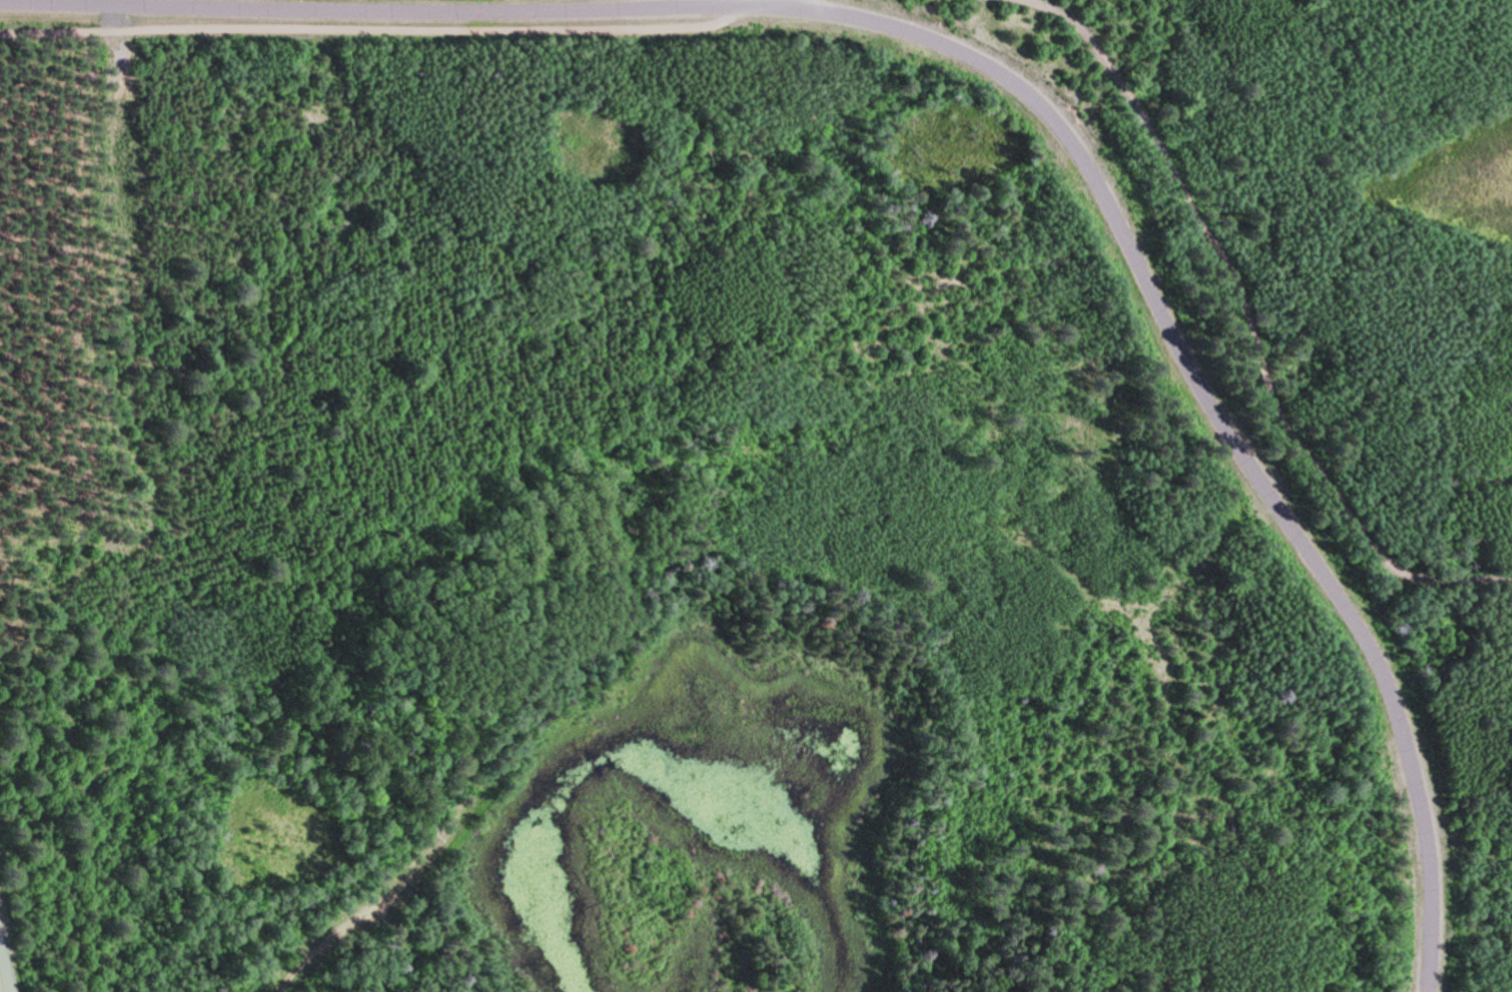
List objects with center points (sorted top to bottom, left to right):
road: (772, 3)
road: (388, 6)
road: (384, 28)
road: (1205, 404)
road: (0, 988)

